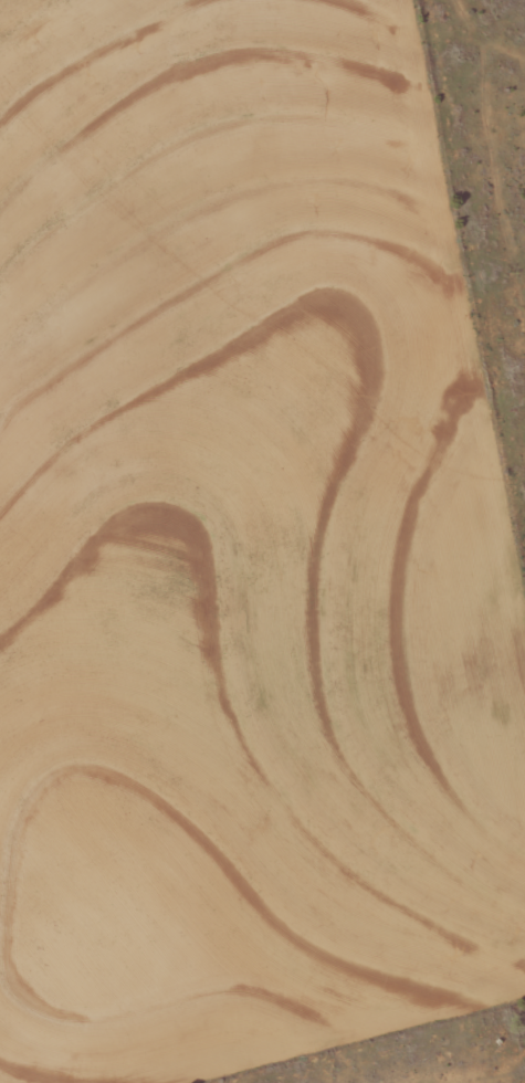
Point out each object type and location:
road: (471, 197)
road: (483, 1074)

